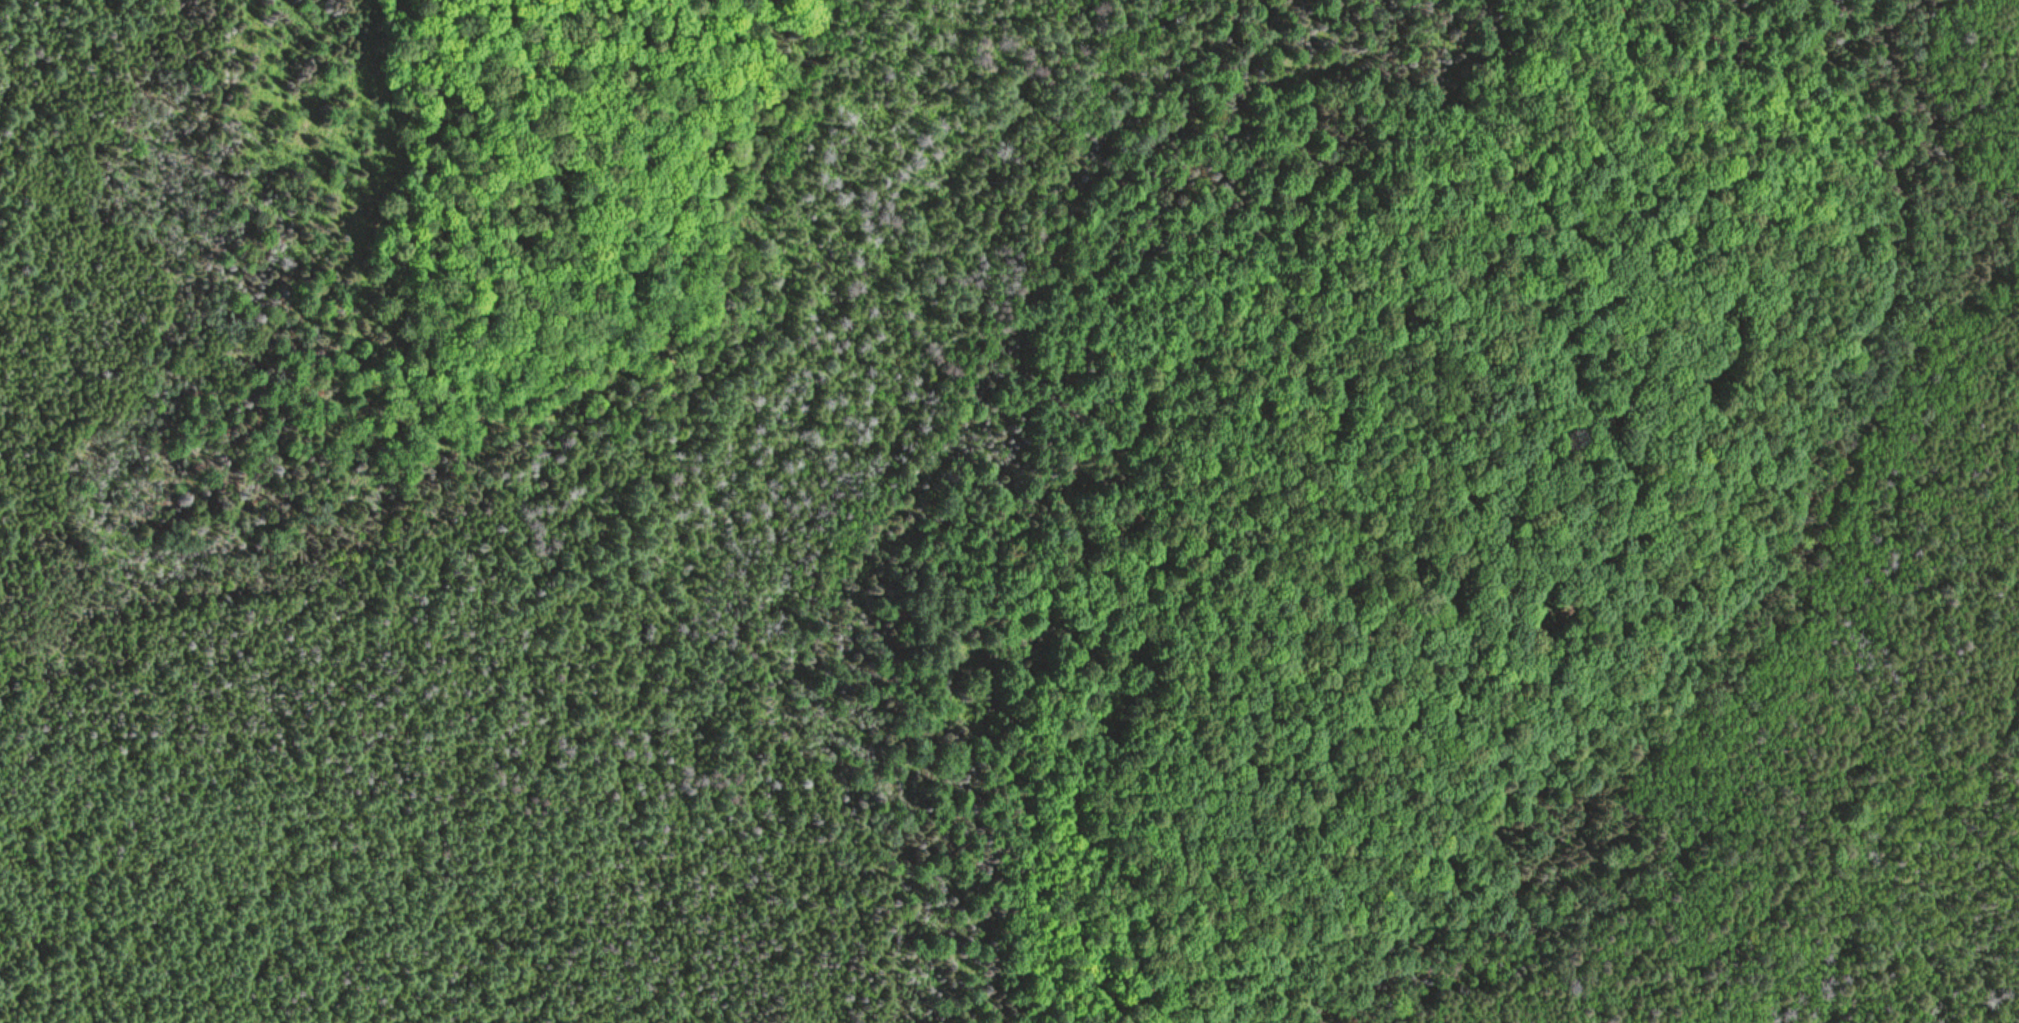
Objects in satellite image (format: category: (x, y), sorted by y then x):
river: (1819, 846)

